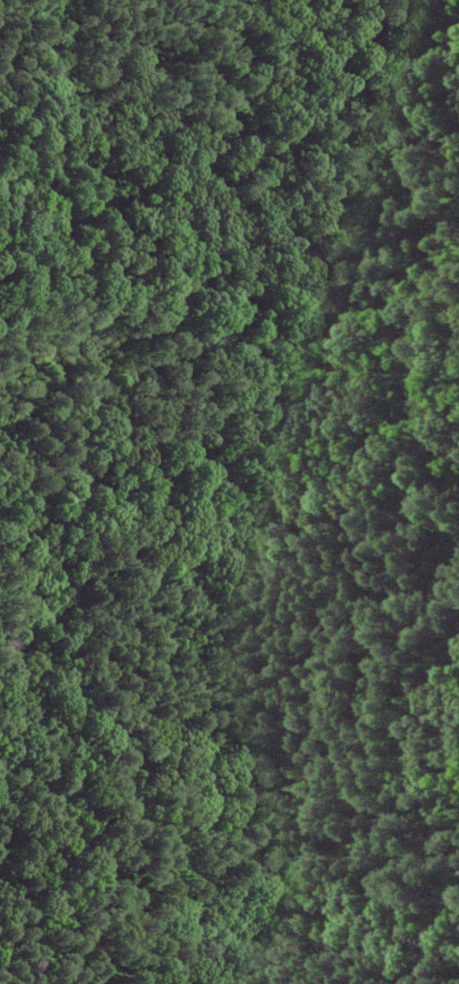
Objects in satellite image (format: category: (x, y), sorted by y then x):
road: (231, 805)

